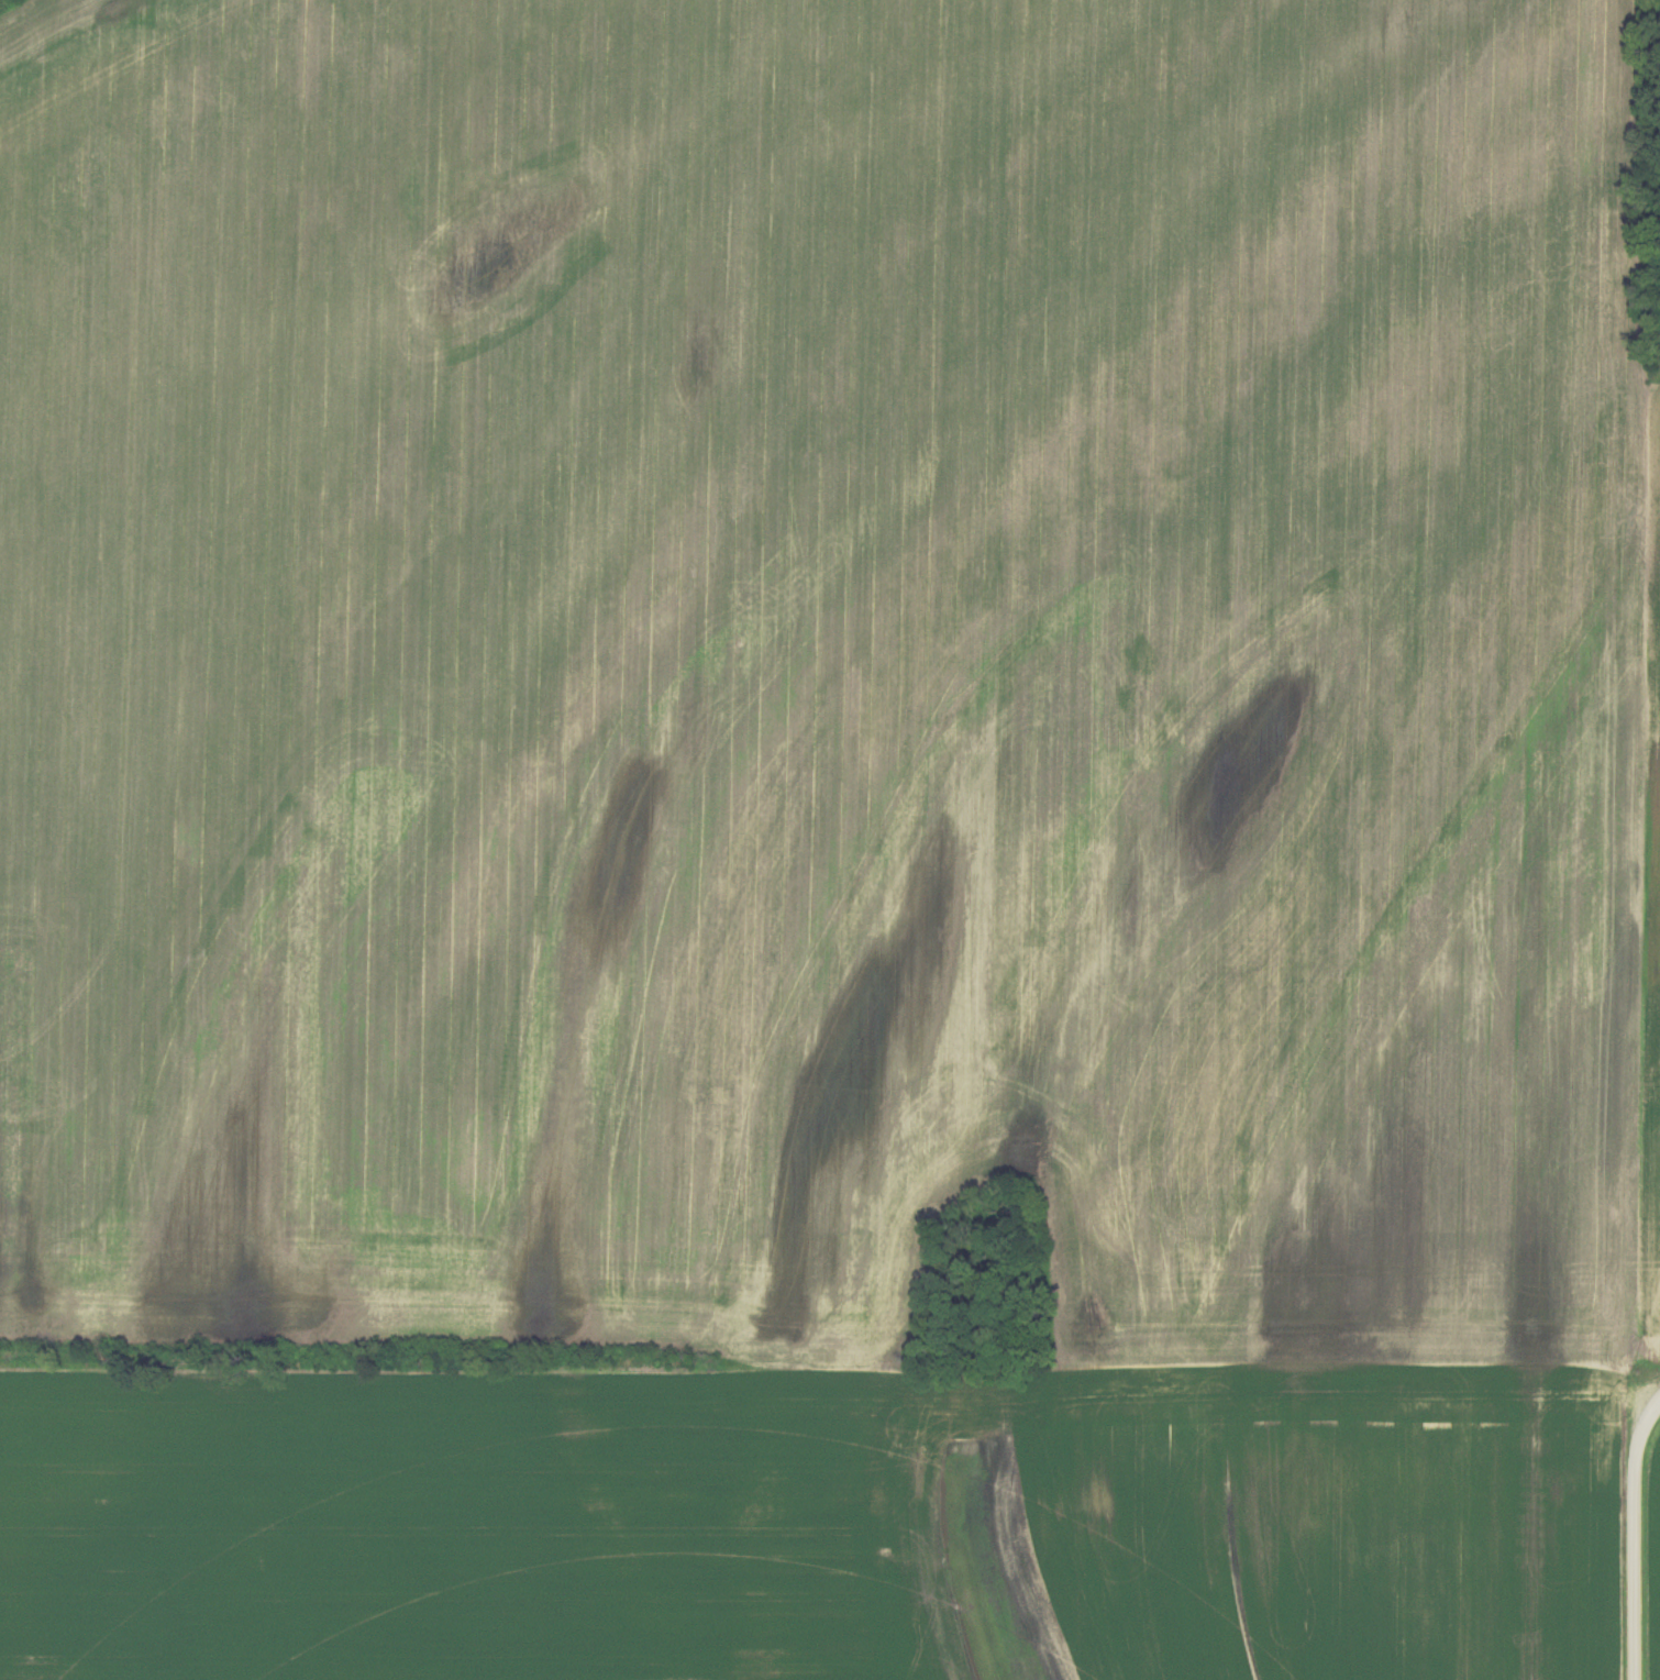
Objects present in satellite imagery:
road: (1636, 1536)

